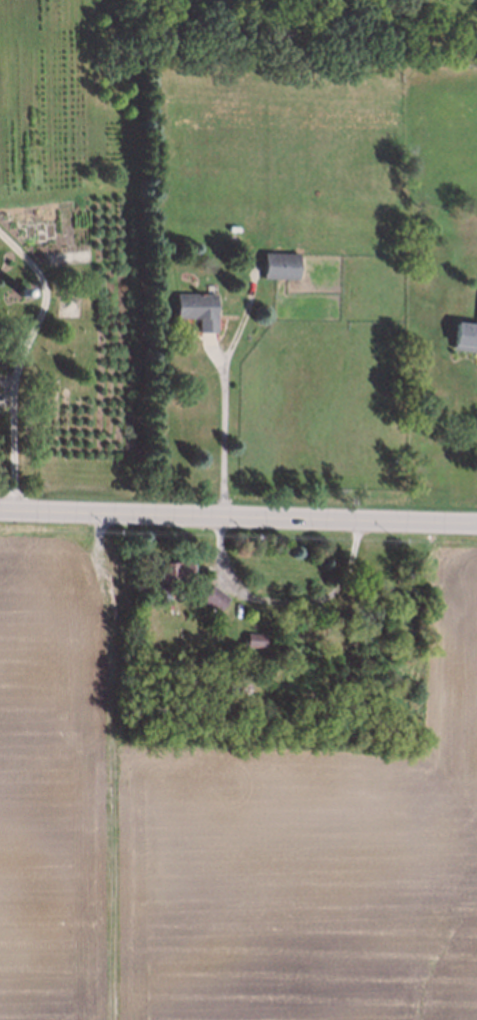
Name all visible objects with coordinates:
building: (273, 264)
building: (19, 290)
building: (191, 308)
building: (464, 336)
road: (19, 361)
road: (225, 438)
road: (238, 518)
building: (173, 573)
building: (211, 596)
road: (284, 601)
building: (251, 638)
building: (232, 669)

